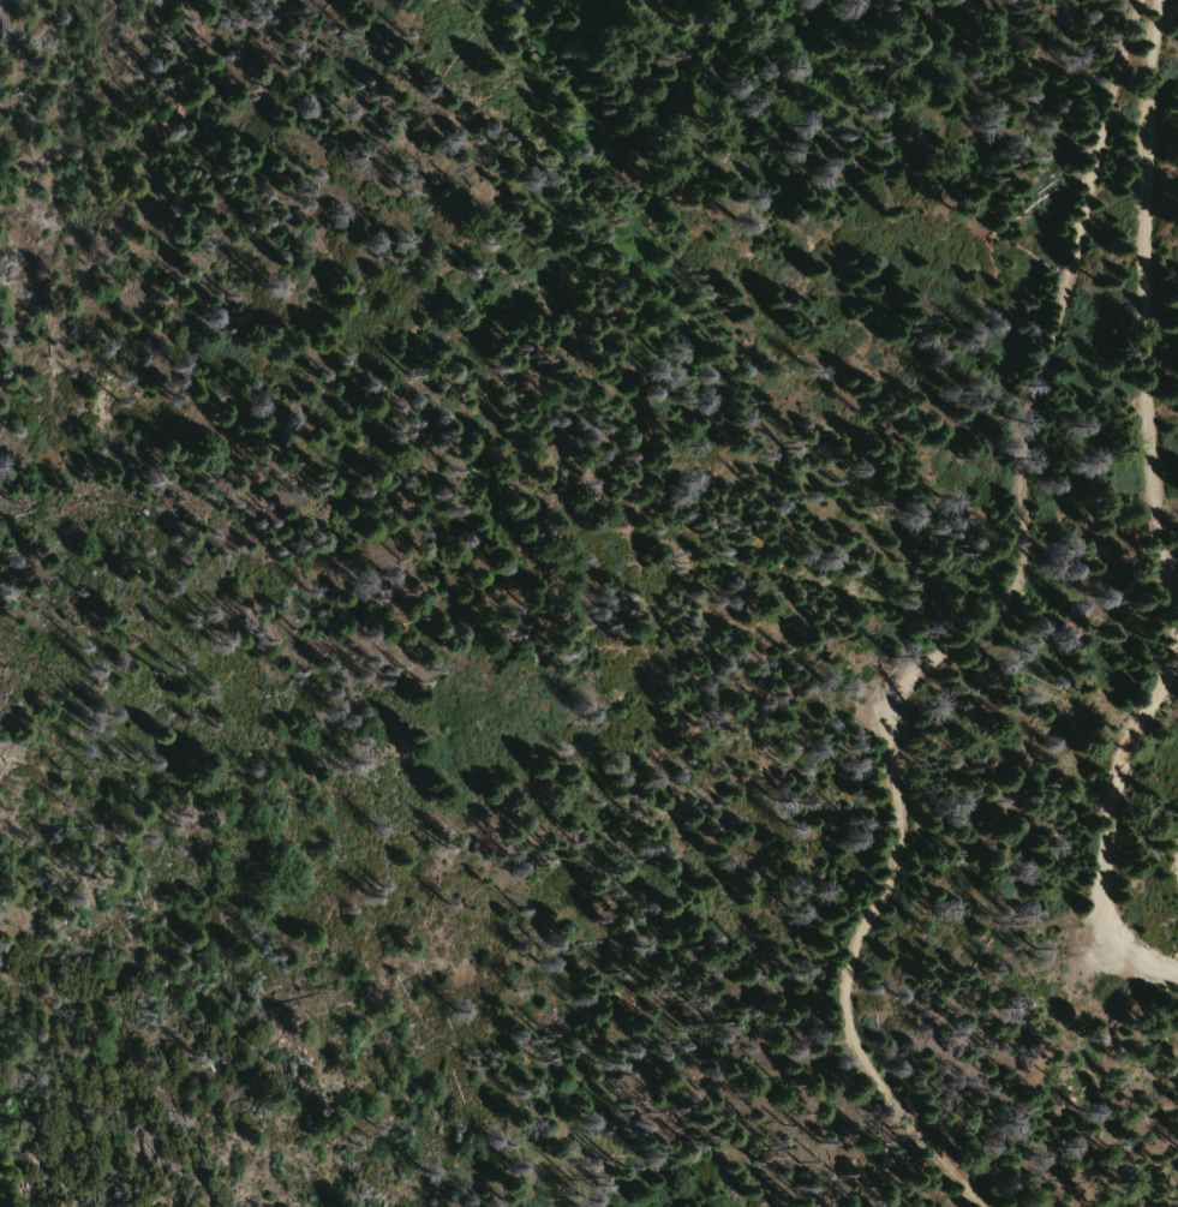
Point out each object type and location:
road: (1149, 310)
road: (970, 625)
road: (1108, 809)

